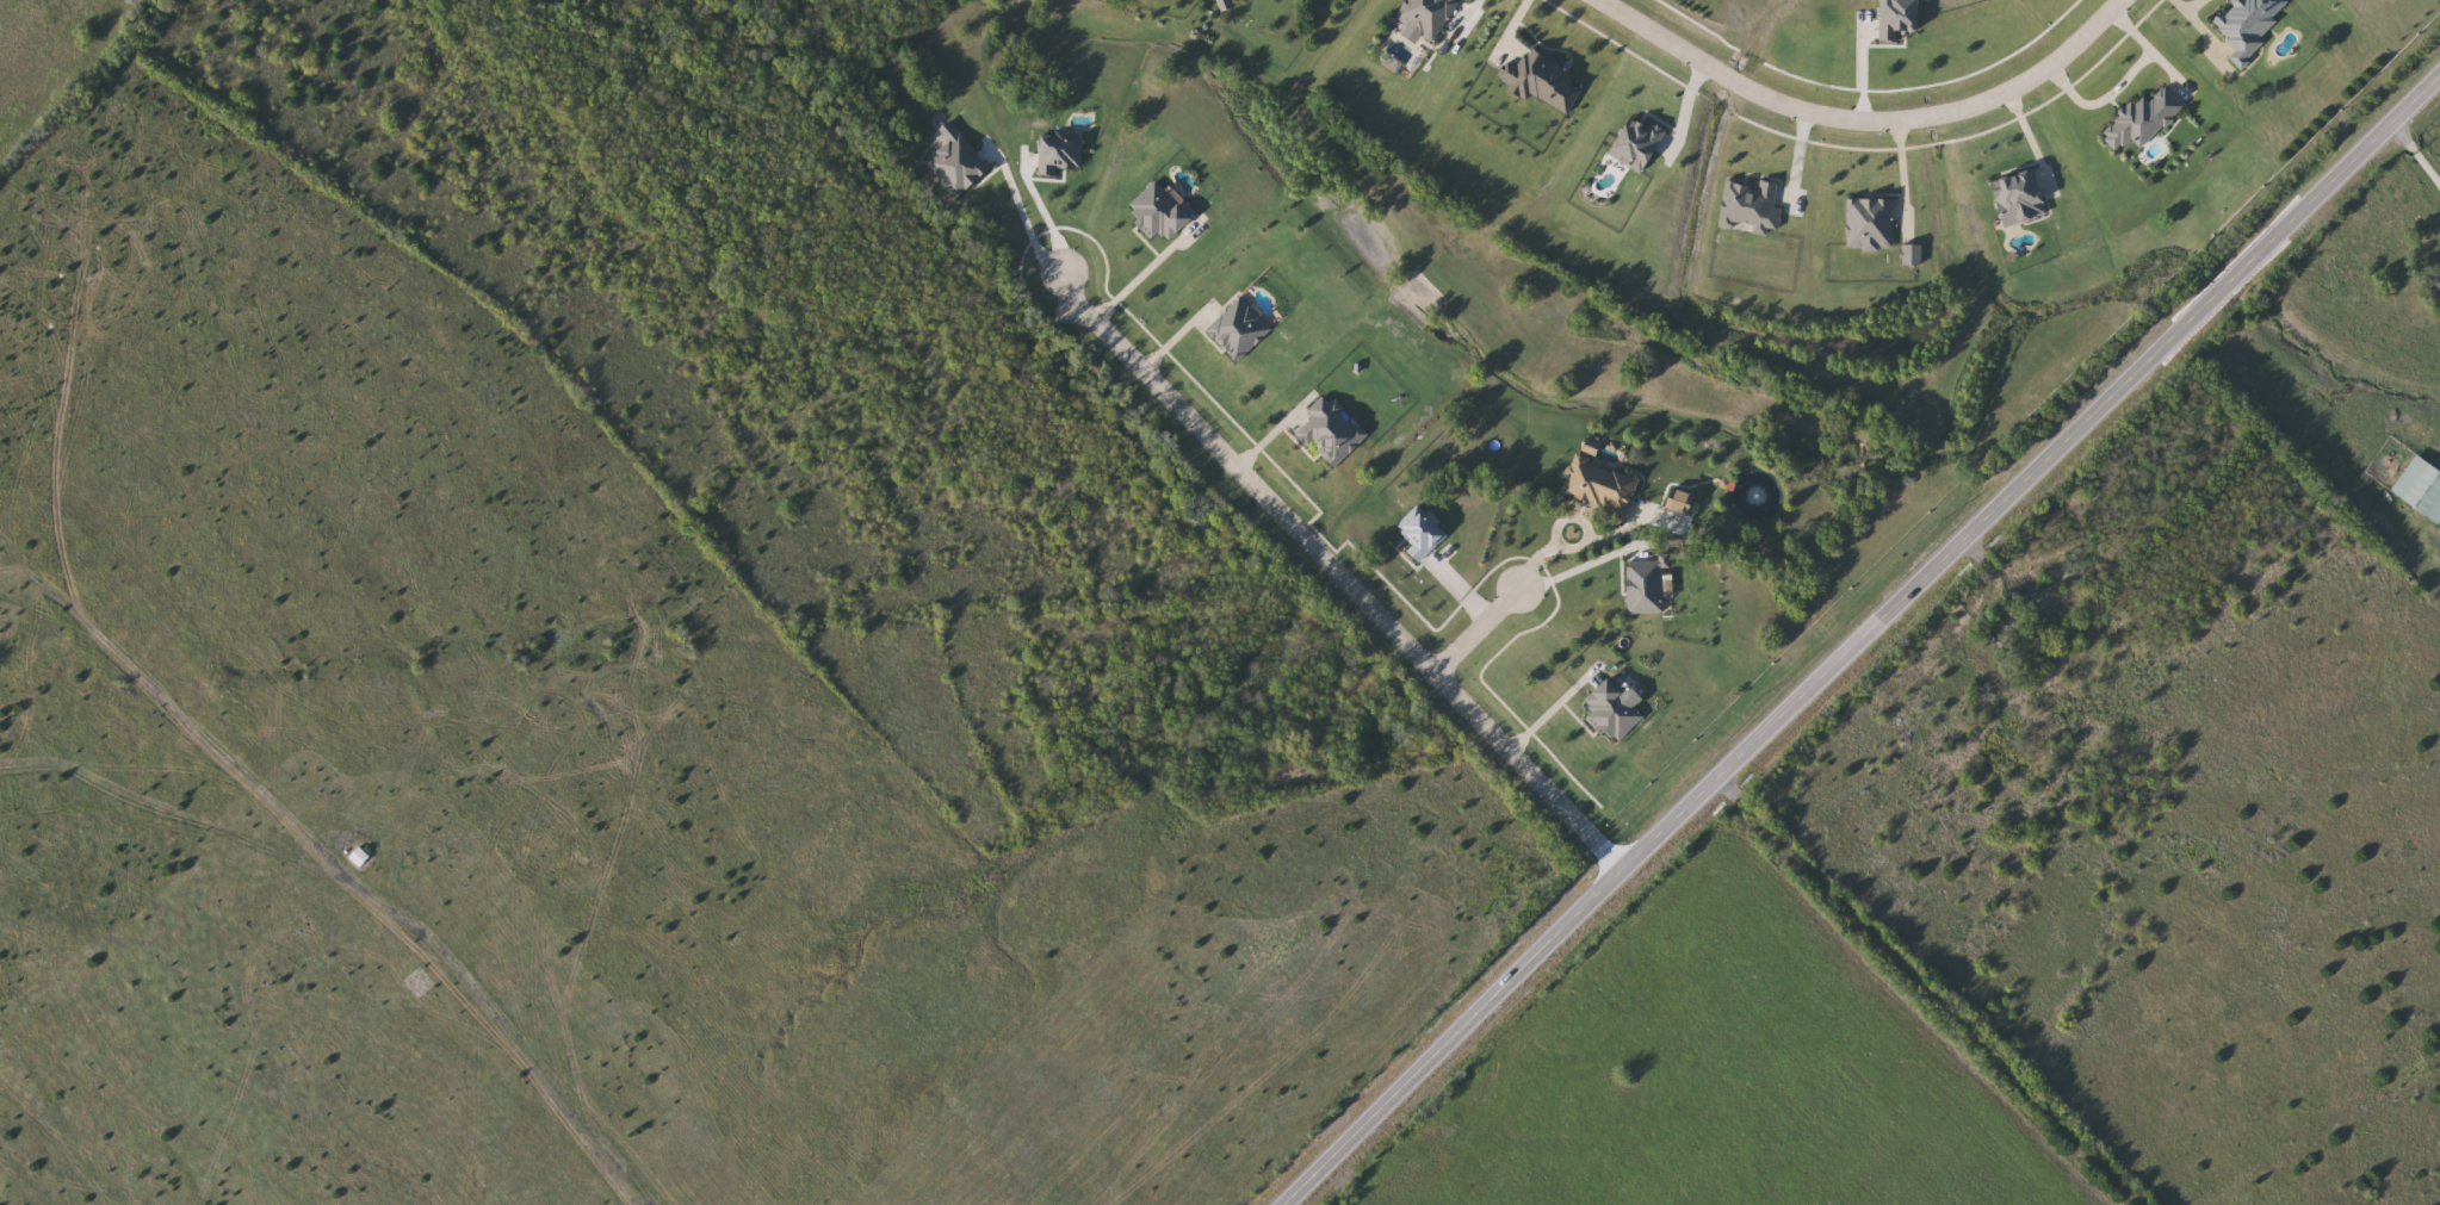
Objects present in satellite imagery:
road: (2196, 6)
building: (1428, 15)
building: (1895, 17)
building: (2248, 25)
road: (2205, 29)
road: (2153, 48)
building: (1546, 82)
road: (2106, 99)
building: (2144, 120)
road: (1865, 122)
building: (1637, 142)
road: (2419, 148)
building: (2018, 198)
building: (1746, 207)
road: (1030, 209)
road: (1055, 216)
building: (1868, 225)
road: (1145, 272)
building: (1602, 485)
road: (1585, 544)
road: (1337, 574)
road: (1479, 629)
road: (1859, 635)
building: (361, 858)

